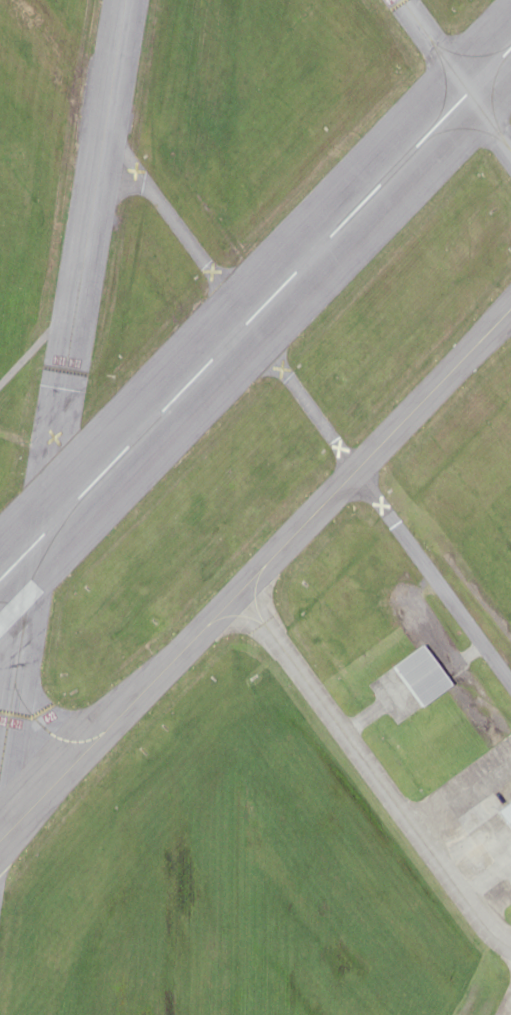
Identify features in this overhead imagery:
airport taxiway: (455, 75)
airport runway: (255, 312)
road: (307, 405)
airport: (255, 507)
airport taxiway: (255, 574)
airport taxiway: (19, 663)
building: (426, 676)

